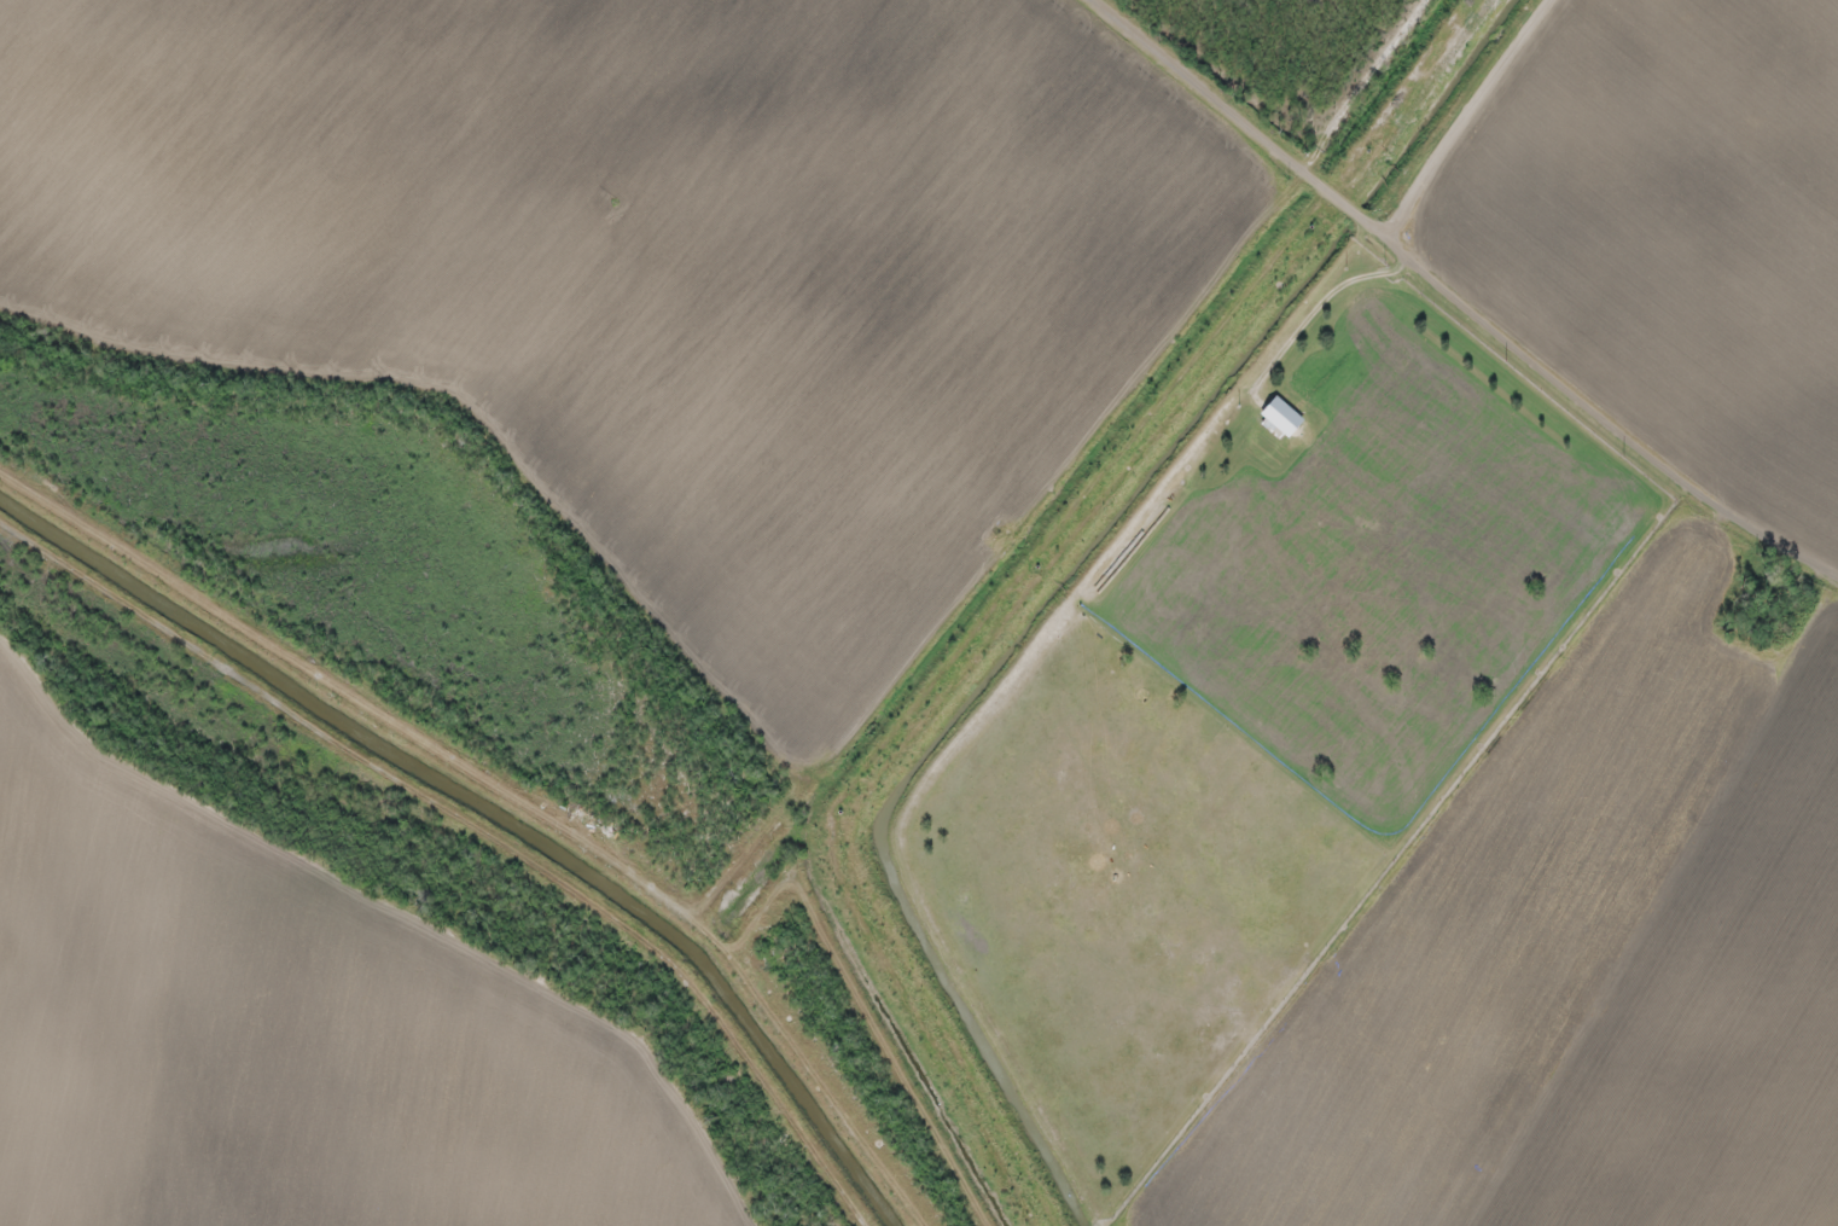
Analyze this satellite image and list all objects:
building: (348, 122)
building: (28, 271)
road: (1455, 298)
building: (761, 342)
building: (1281, 414)
building: (859, 436)
building: (744, 441)
building: (1488, 1004)
building: (1481, 1116)

